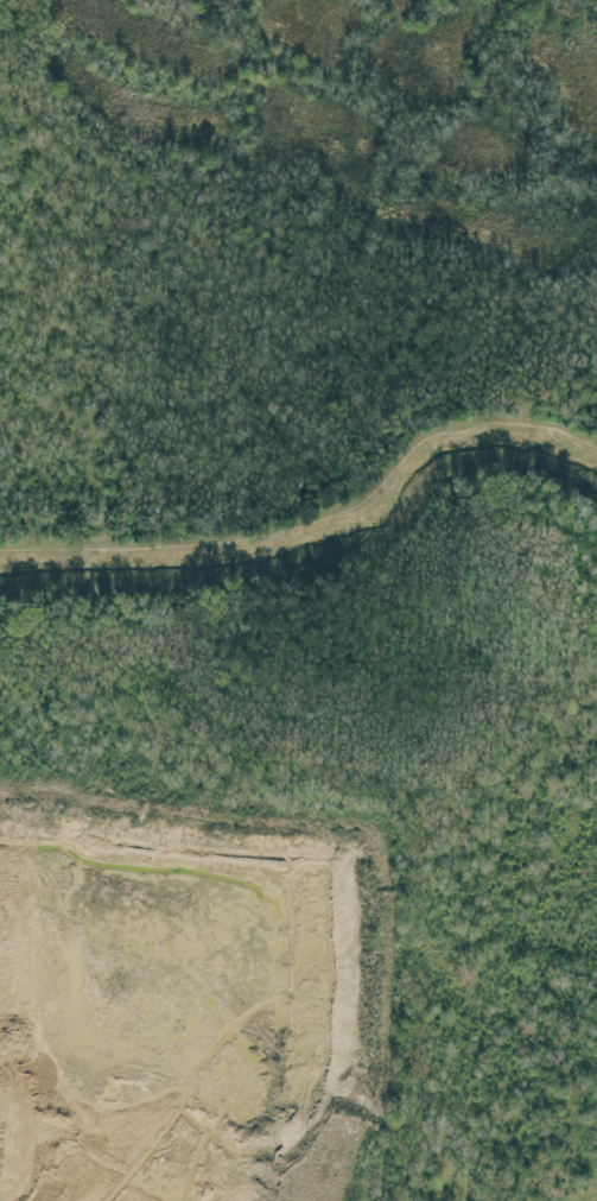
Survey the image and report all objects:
road: (312, 517)

